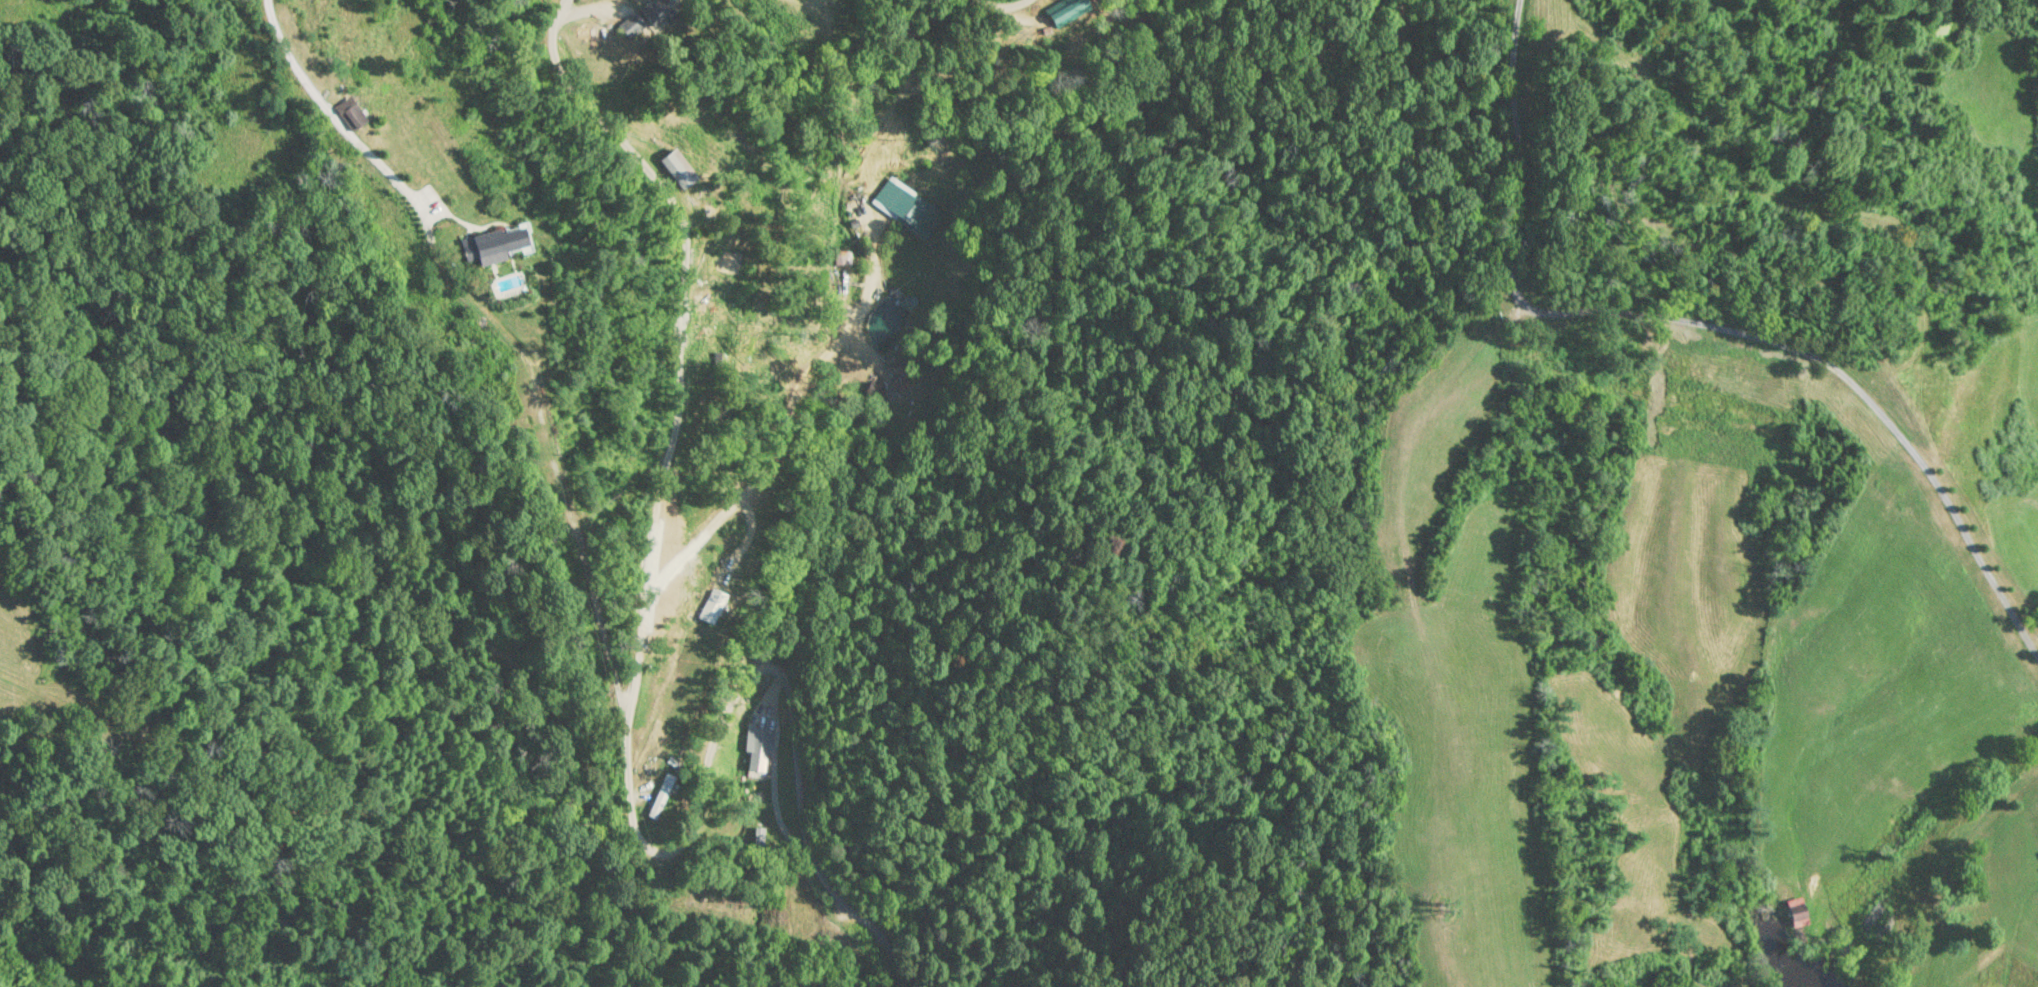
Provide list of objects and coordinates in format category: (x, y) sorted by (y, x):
road: (1002, 5)
building: (654, 10)
building: (630, 25)
building: (347, 114)
building: (675, 168)
building: (915, 218)
building: (491, 244)
building: (841, 258)
building: (711, 265)
road: (1706, 329)
road: (802, 436)
building: (690, 696)
road: (630, 704)
building: (758, 747)
building: (657, 797)
building: (1795, 911)

